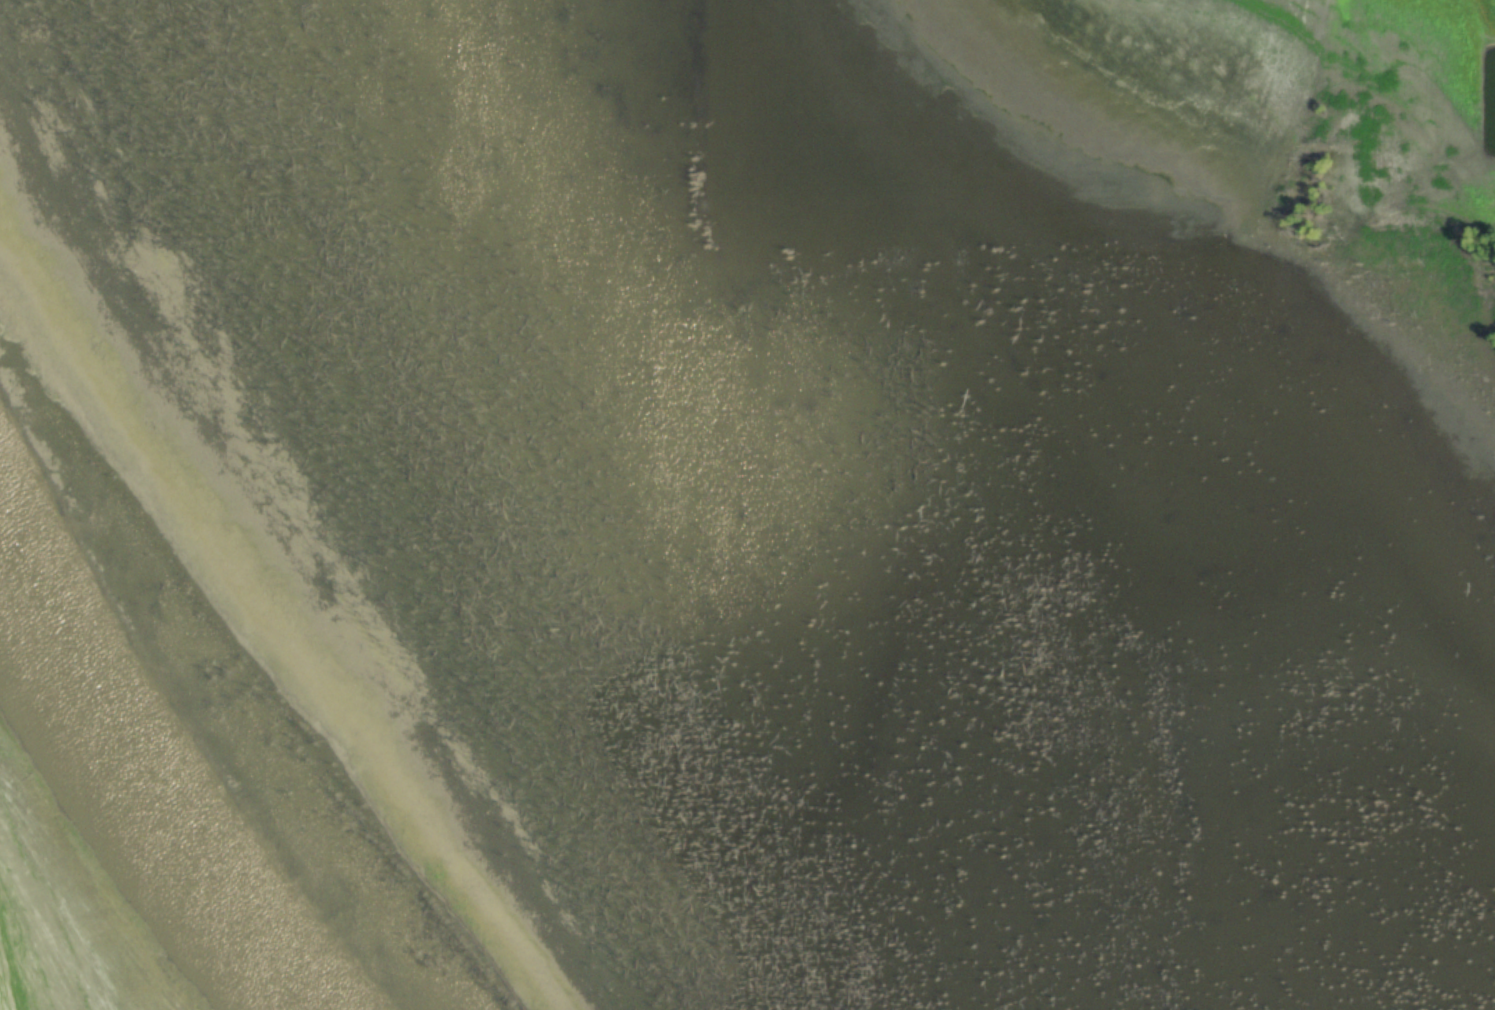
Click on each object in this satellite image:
river: (148, 796)
crop: (64, 927)

